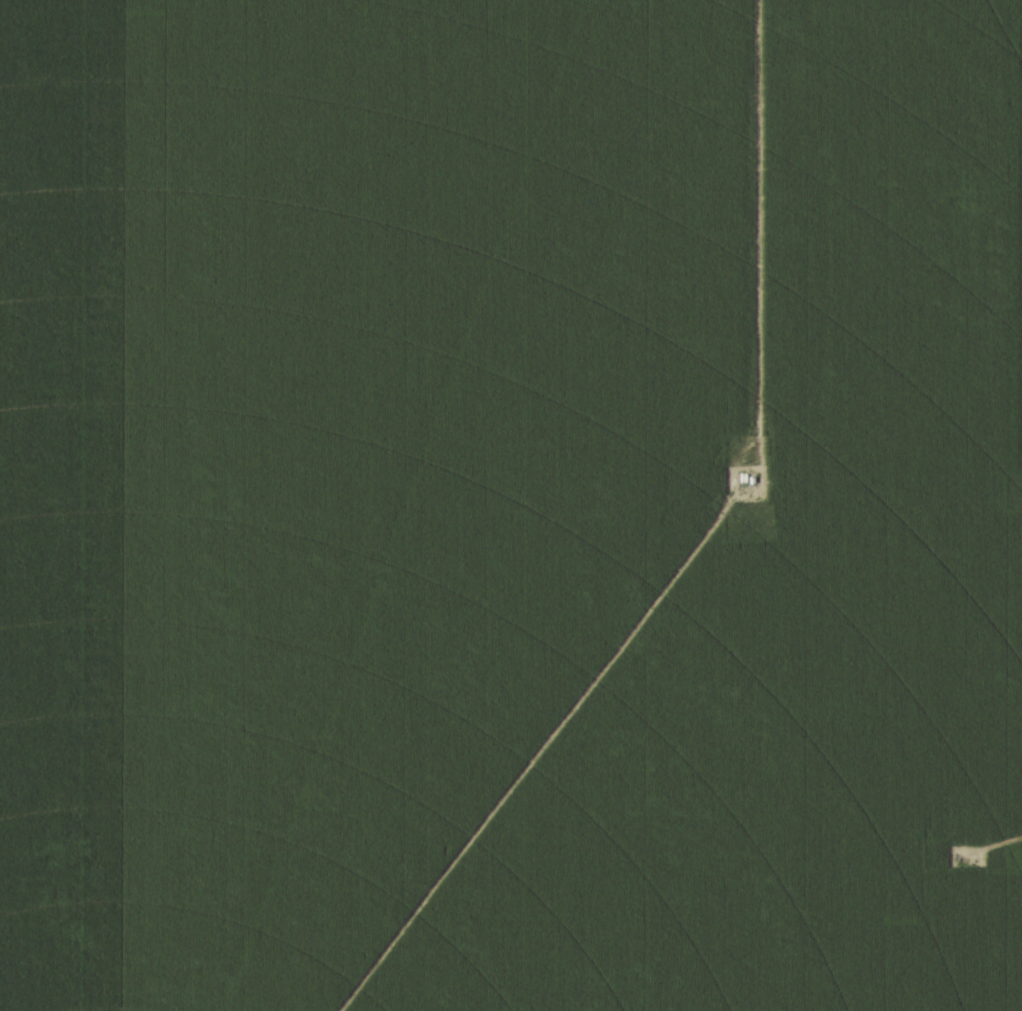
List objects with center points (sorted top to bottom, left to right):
building: (742, 479)

